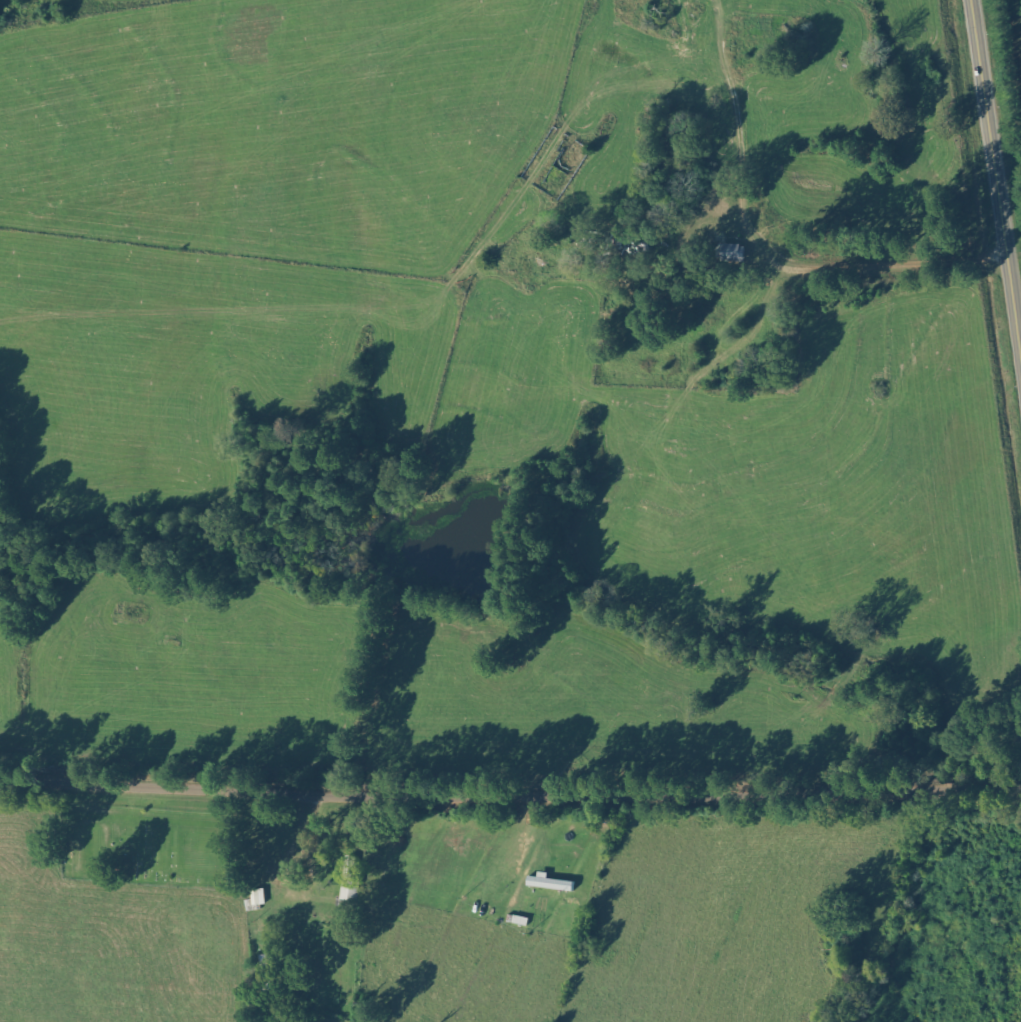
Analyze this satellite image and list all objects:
road: (996, 174)
building: (730, 253)
road: (510, 795)
park: (154, 842)
building: (550, 882)
road: (392, 907)

